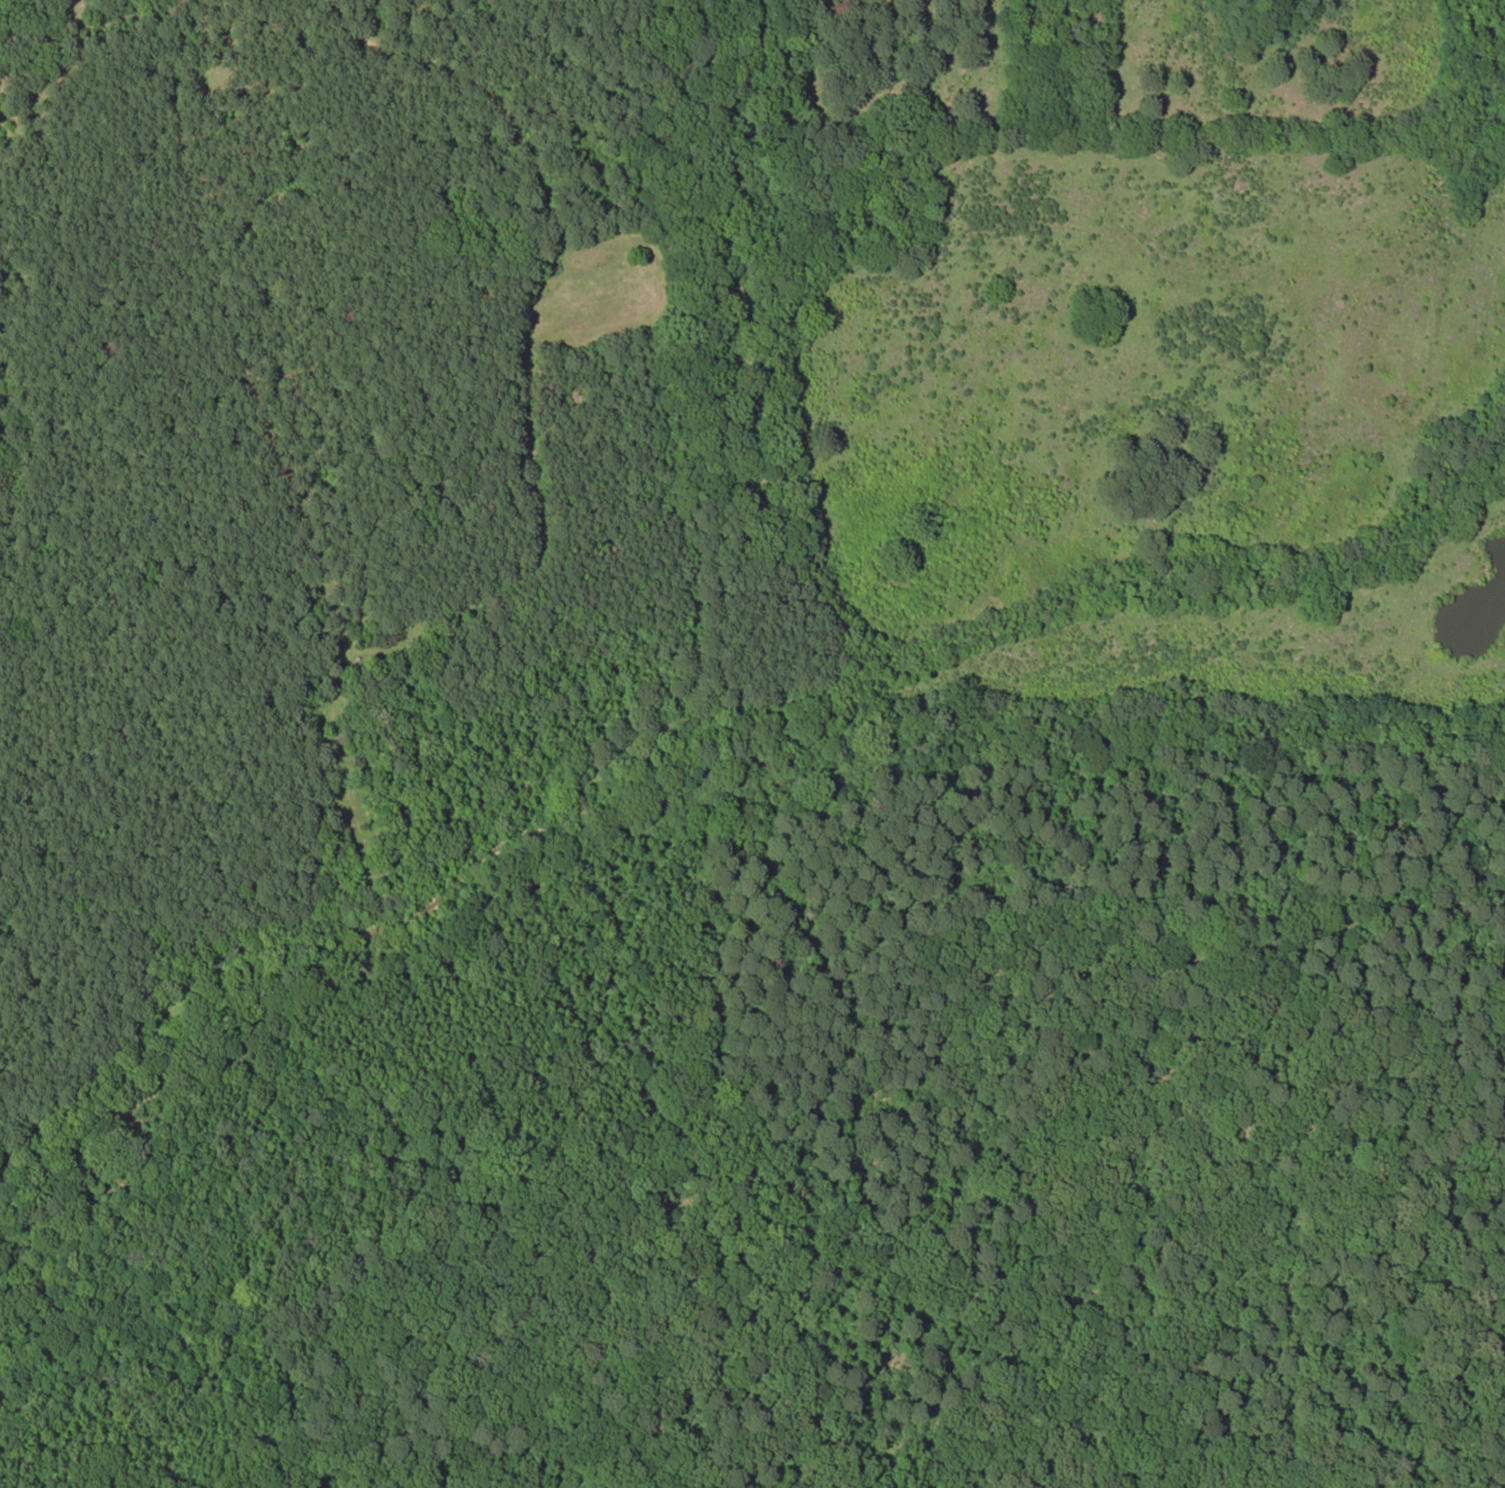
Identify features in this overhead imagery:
road: (1454, 1417)

